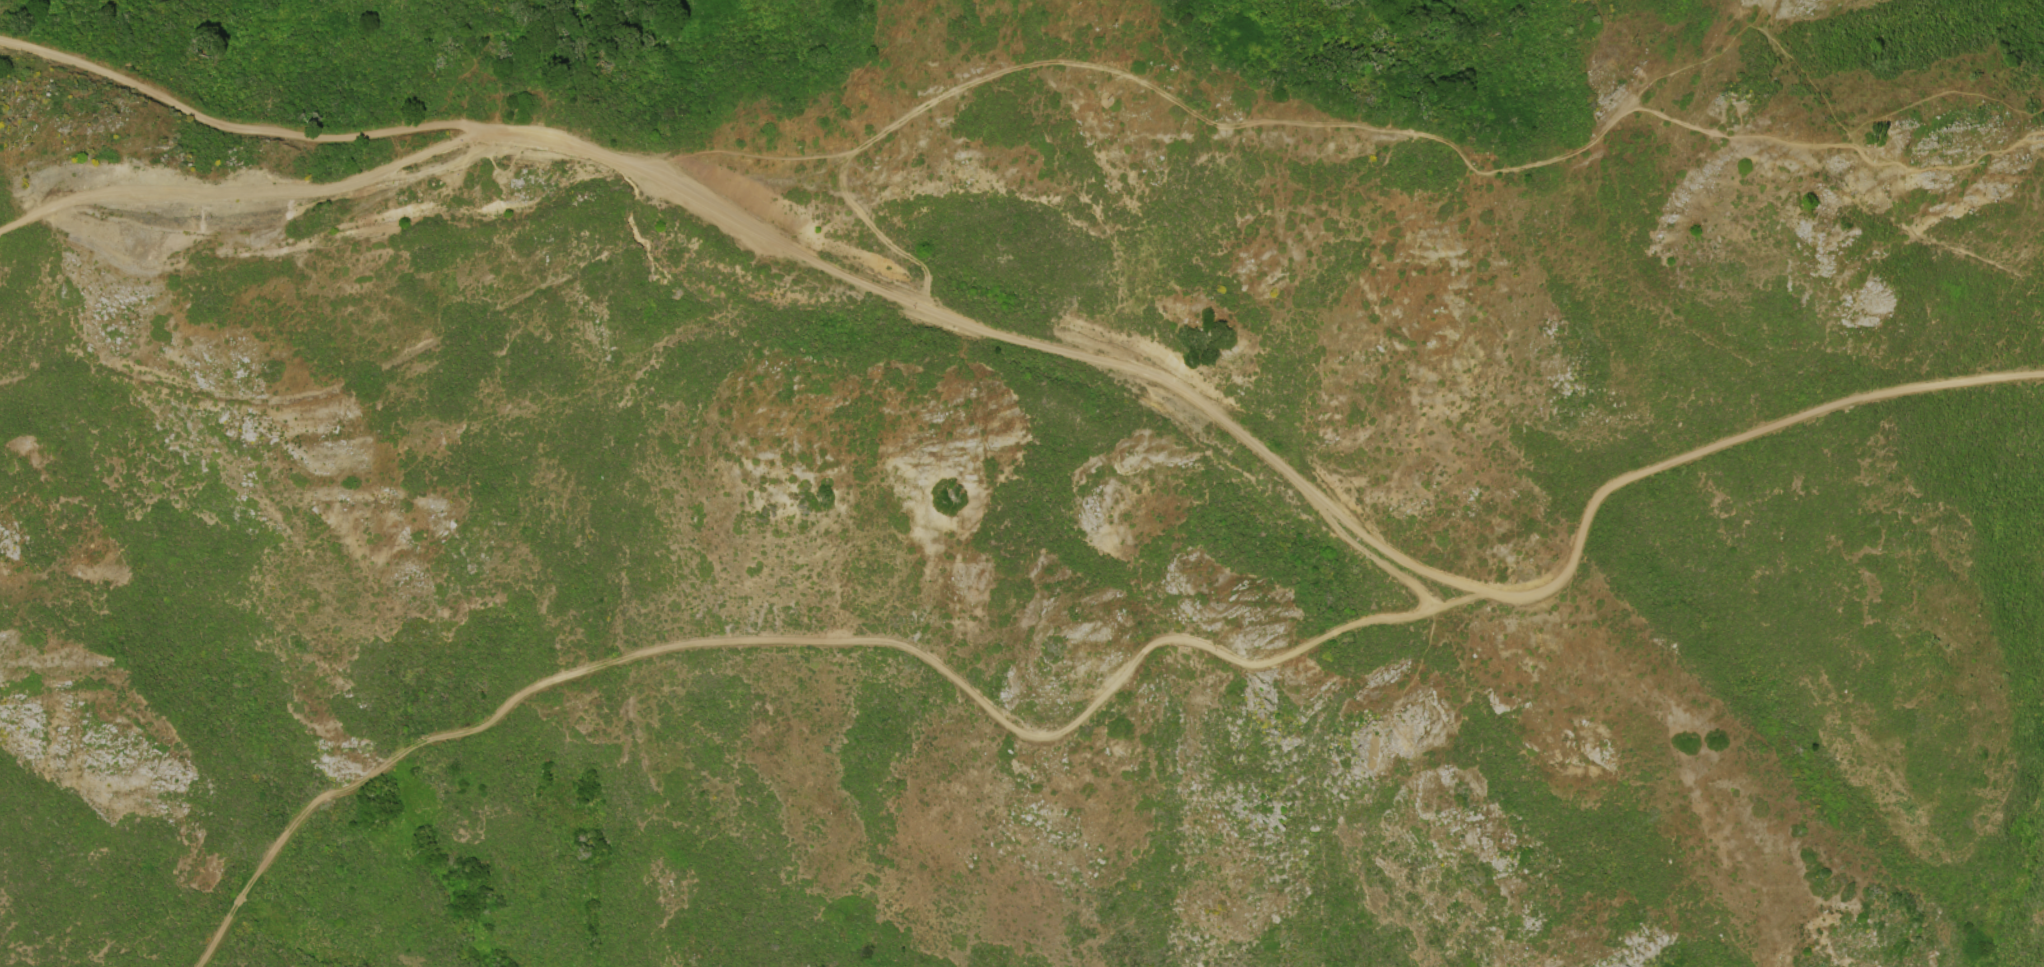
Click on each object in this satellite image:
road: (244, 128)
road: (1345, 128)
power tower: (1876, 152)
road: (251, 193)
road: (1291, 477)
road: (1374, 562)
road: (1362, 626)
road: (696, 649)

